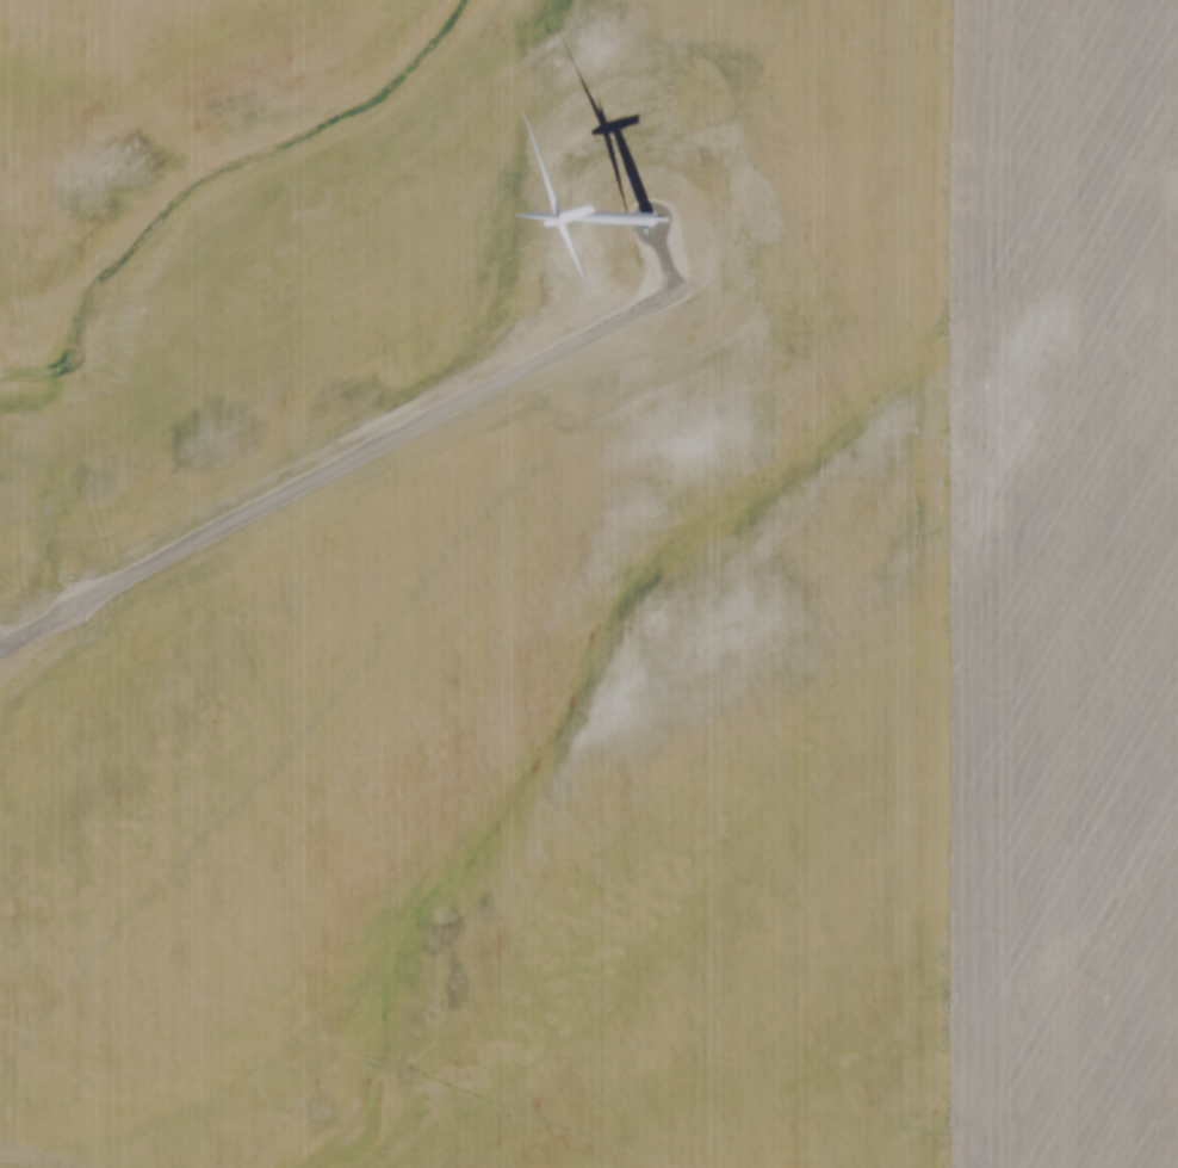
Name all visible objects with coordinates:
wind turbine: (638, 242)
road: (353, 440)

